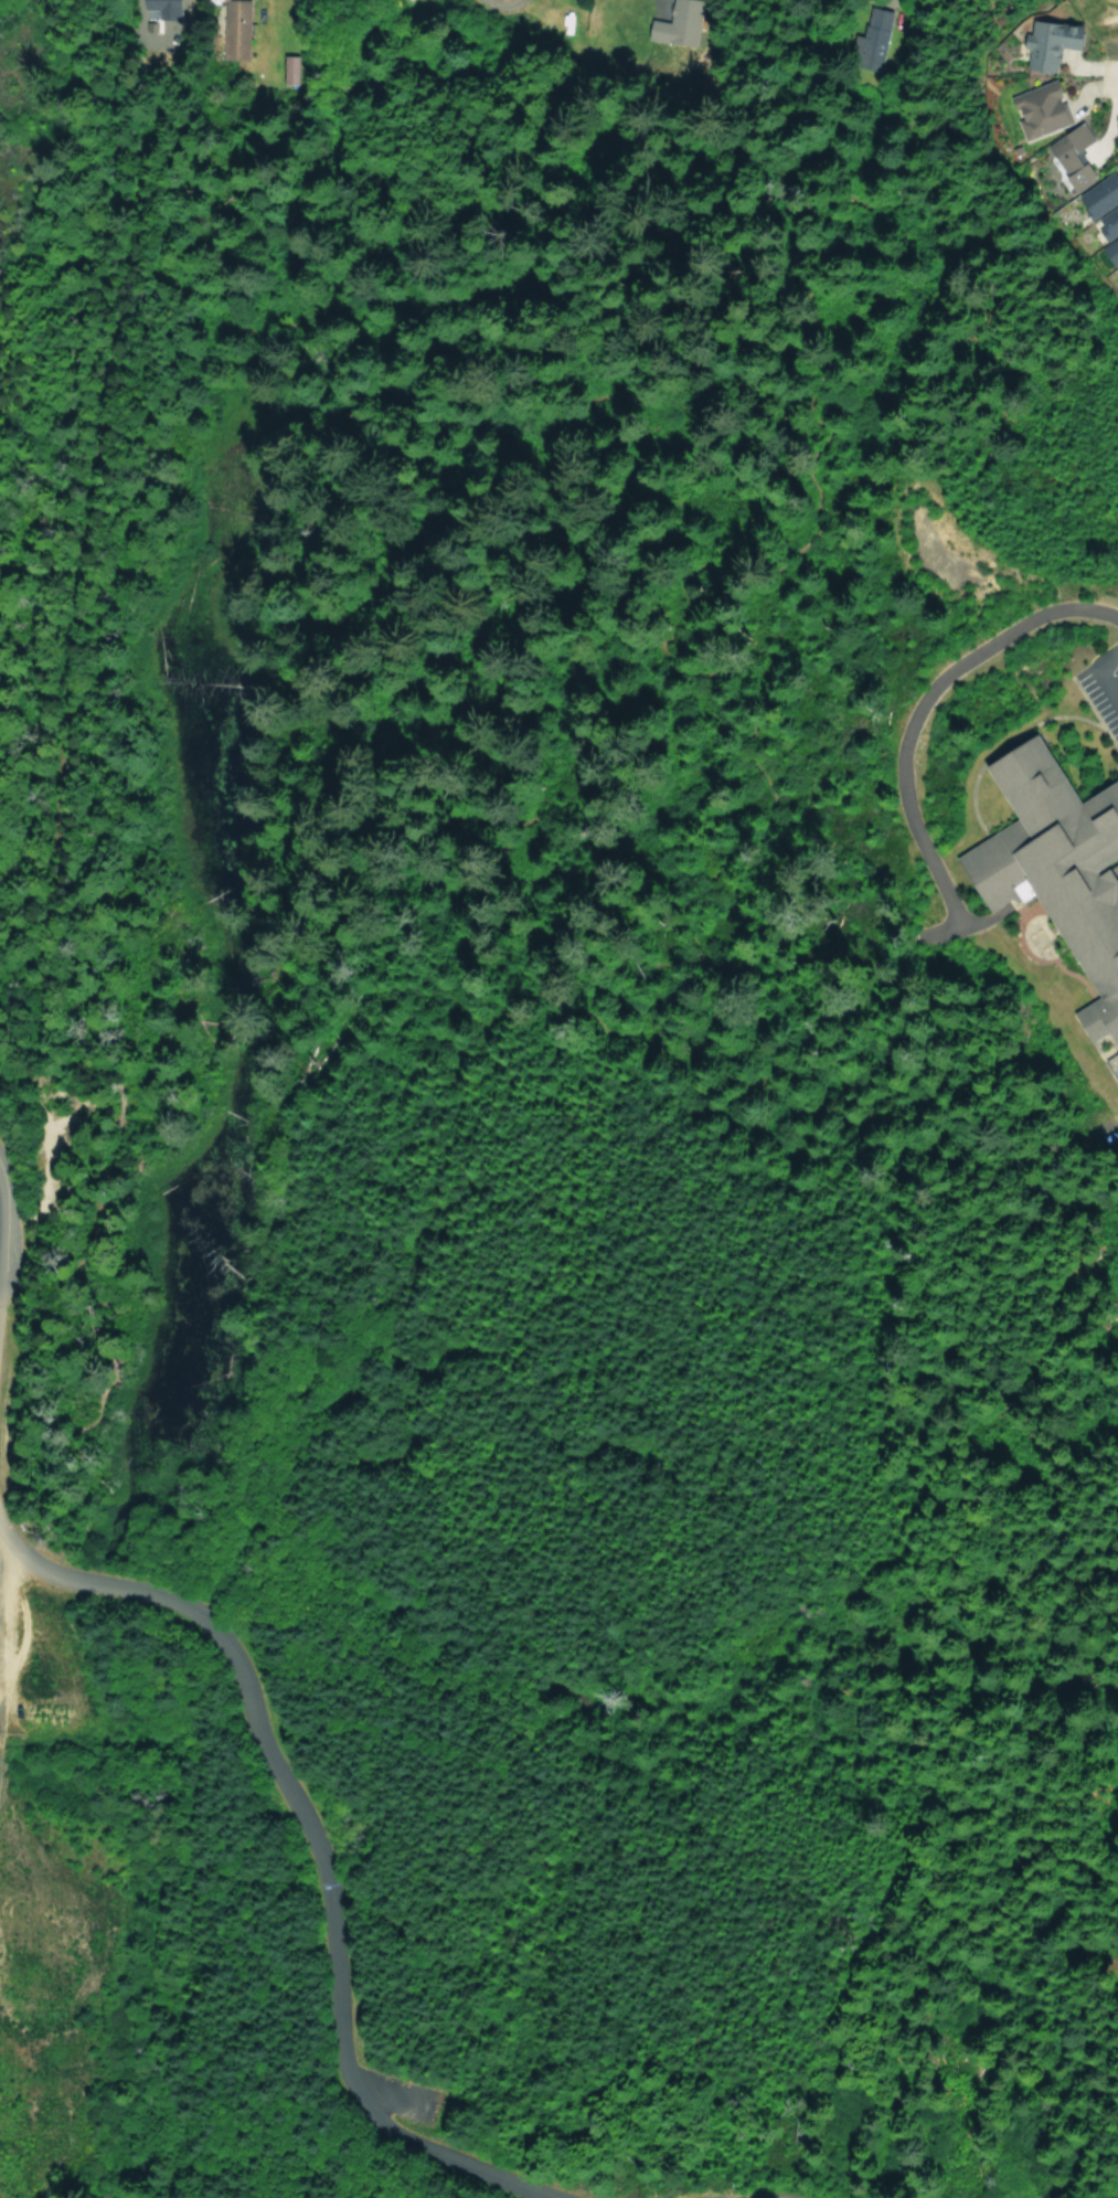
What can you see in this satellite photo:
building: (167, 9)
building: (234, 29)
building: (1044, 44)
road: (1116, 77)
building: (1034, 110)
building: (1117, 137)
building: (1067, 156)
building: (1096, 197)
road: (872, 198)
building: (1106, 221)
building: (1108, 249)
building: (1117, 265)
road: (779, 361)
park: (436, 605)
road: (1098, 675)
parking lot: (1101, 687)
road: (914, 704)
building: (1056, 869)
road: (947, 931)
road: (12, 1064)
building: (1117, 1085)
road: (409, 1206)
road: (88, 1310)
road: (2, 1543)
road: (311, 1843)
road: (760, 2196)

